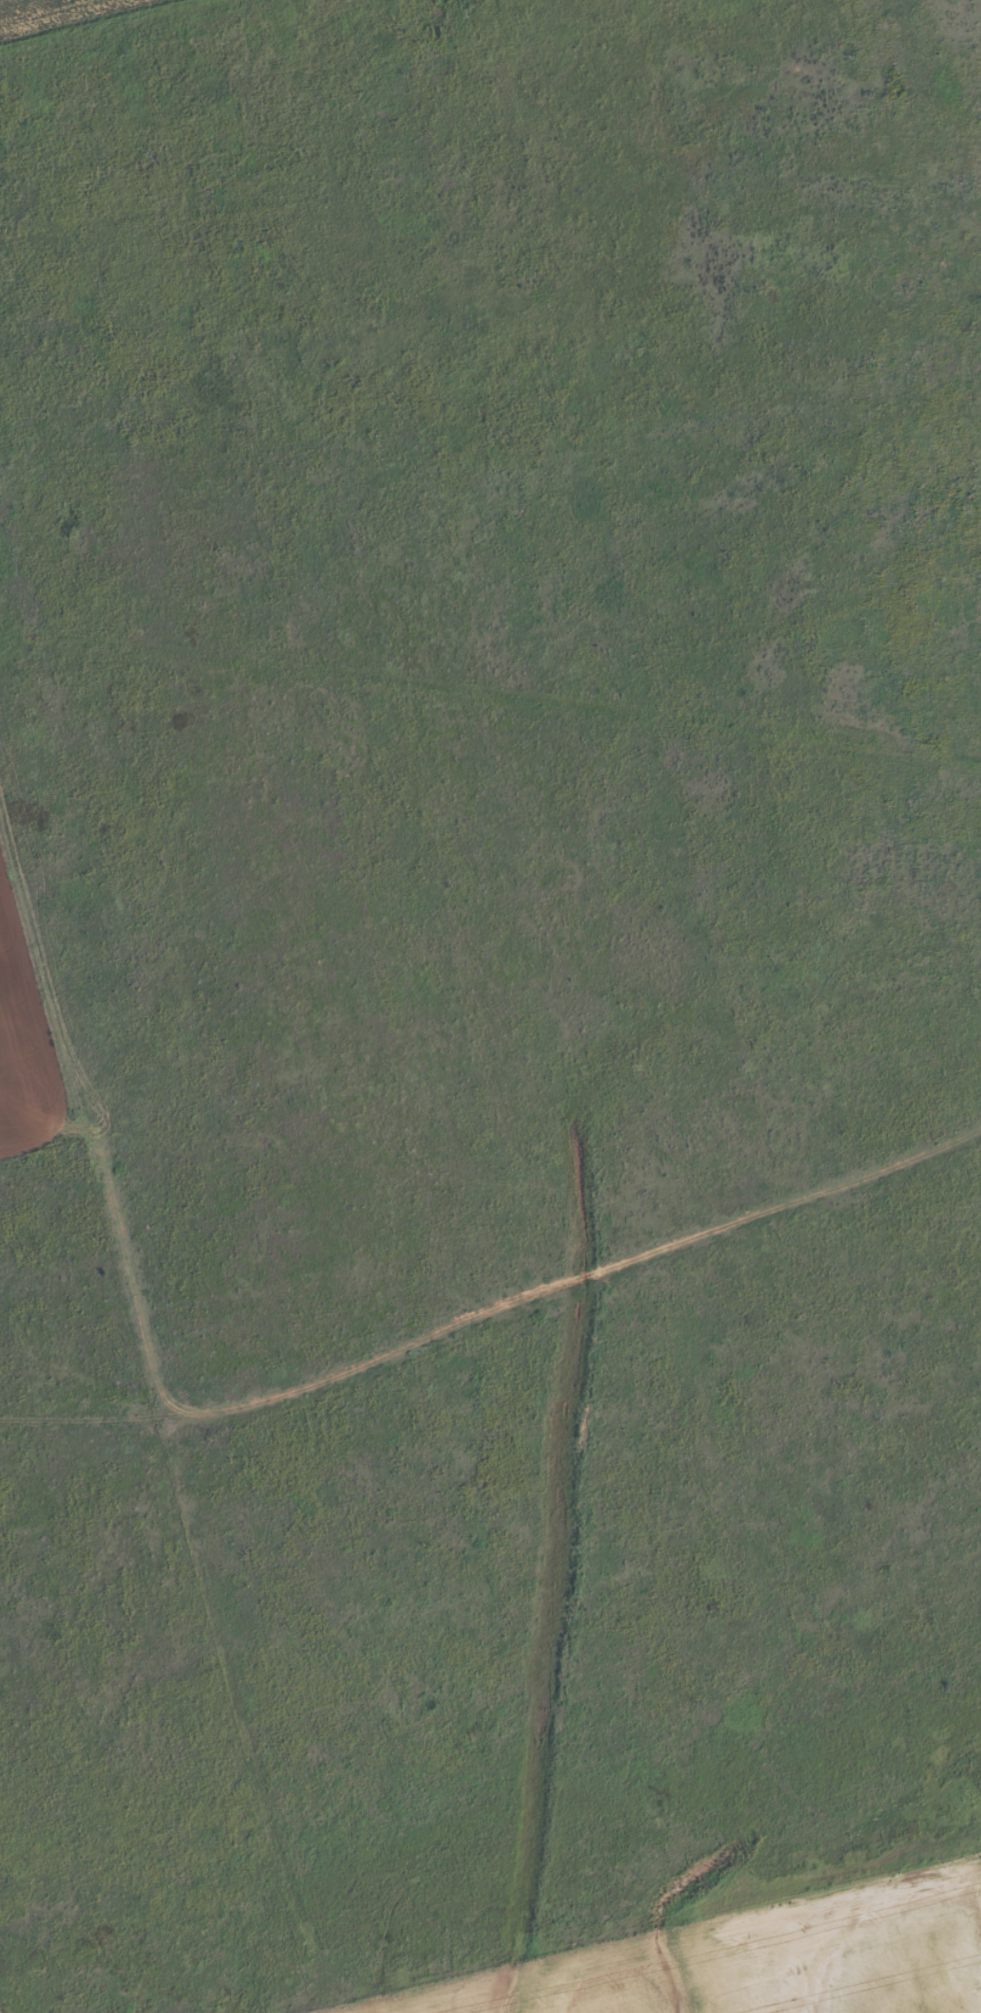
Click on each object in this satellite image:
road: (481, 1550)

